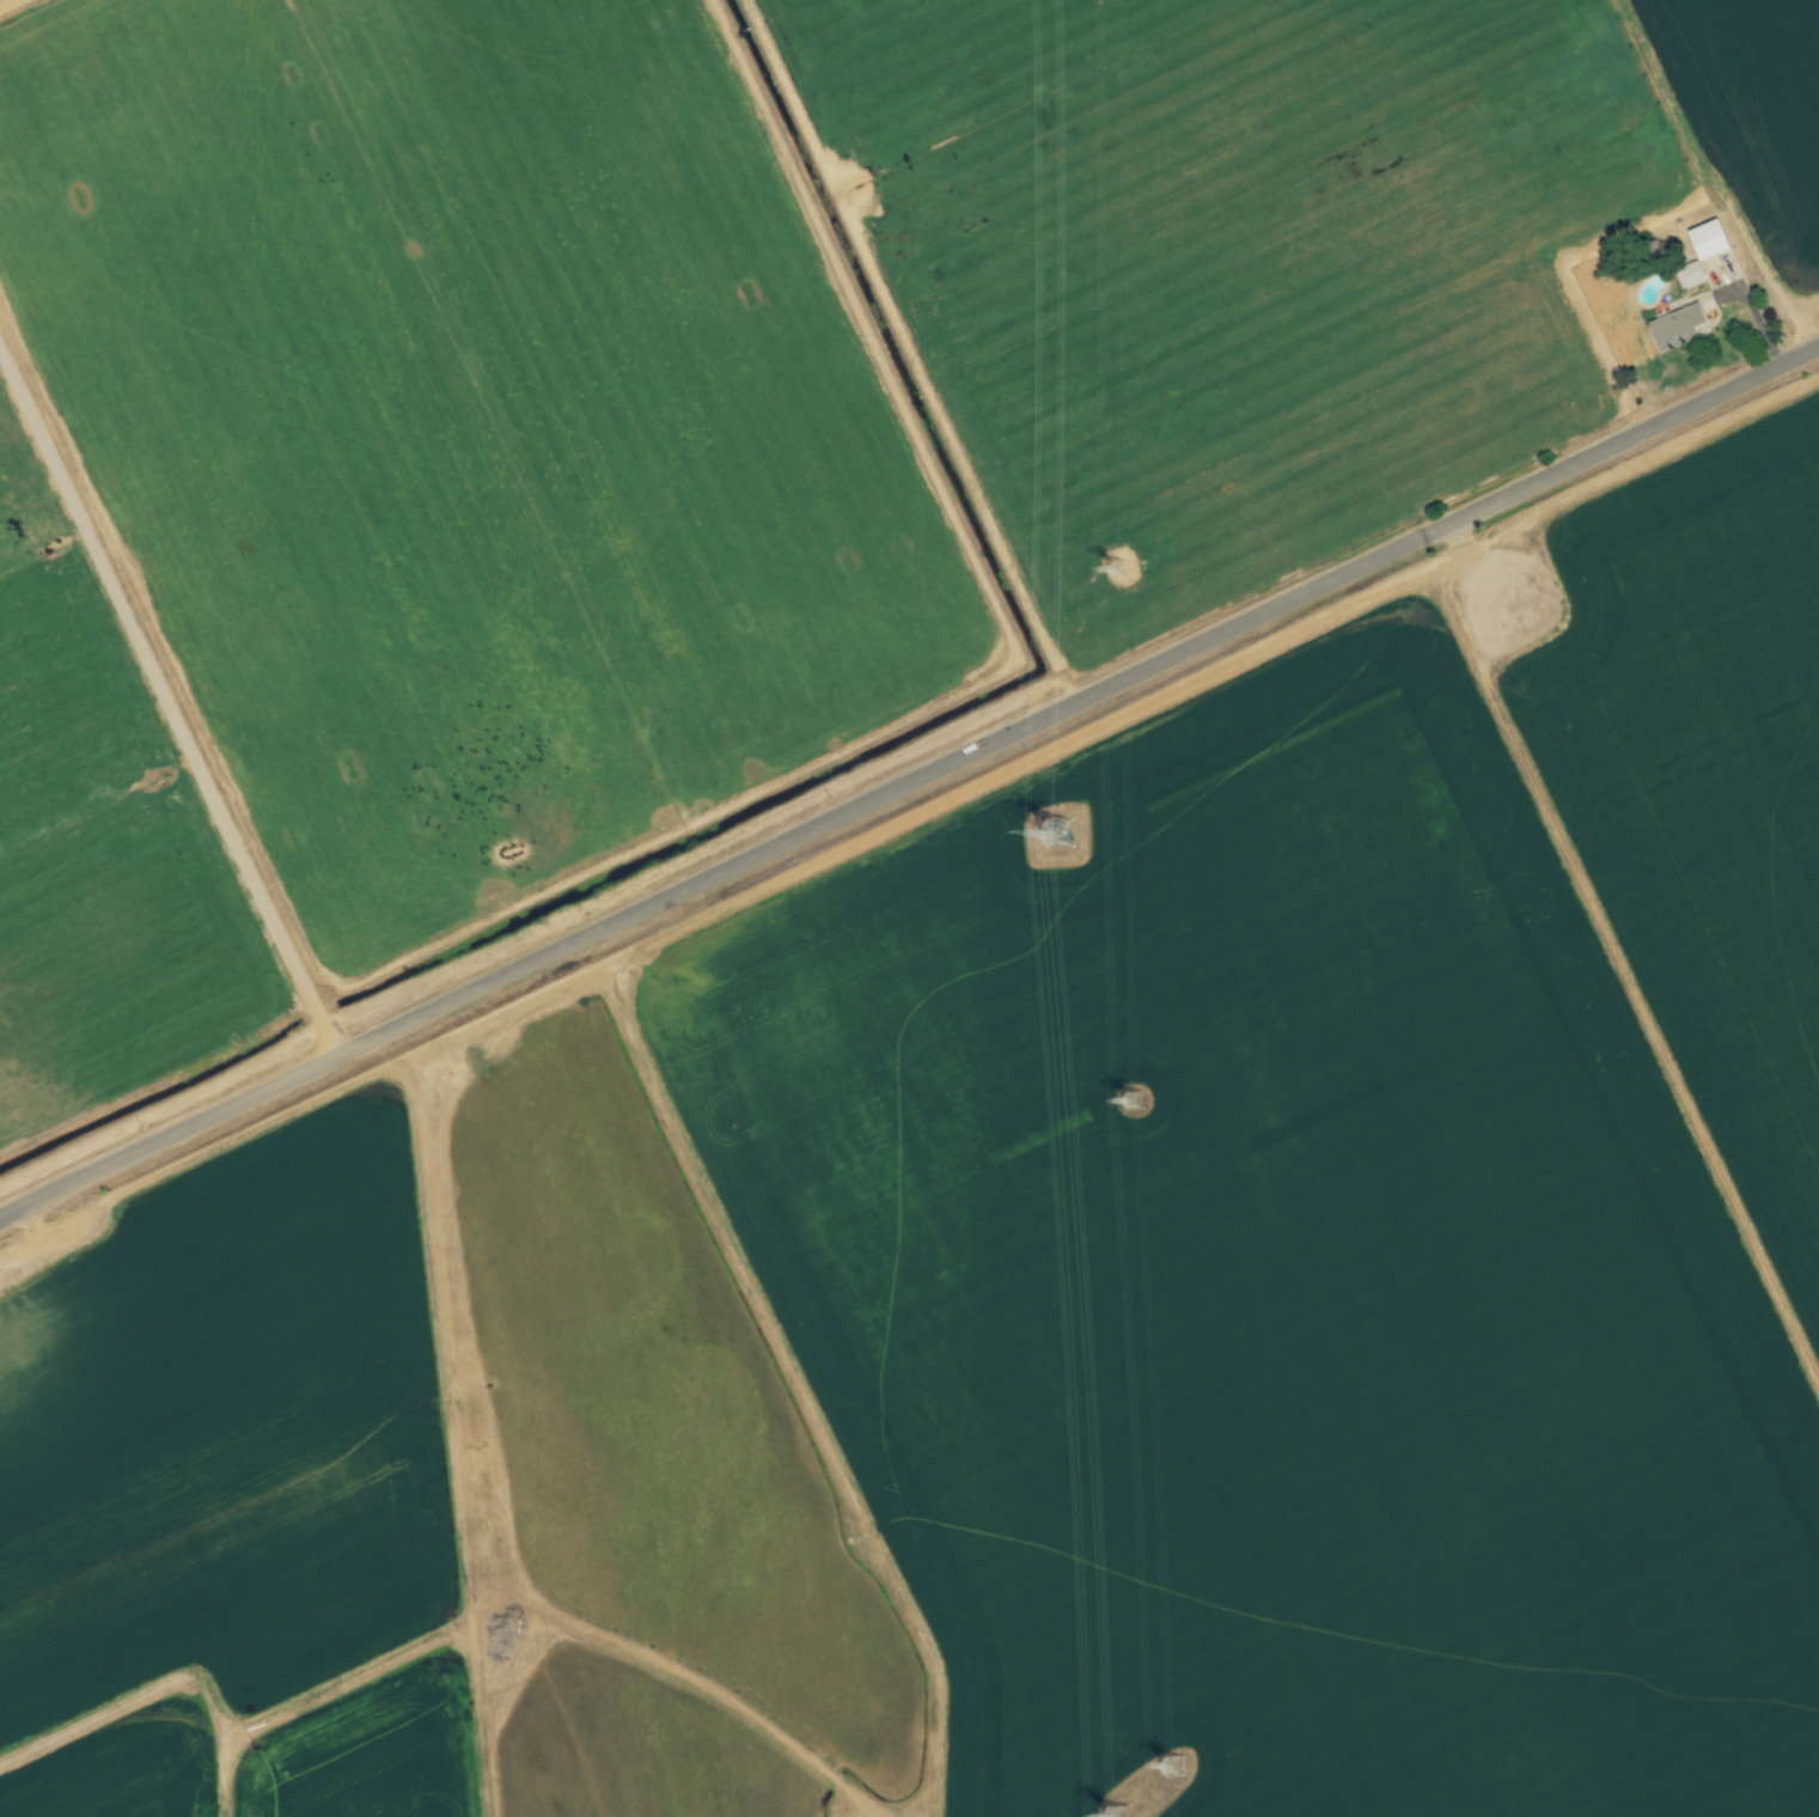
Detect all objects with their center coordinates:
building: (1709, 239)
building: (1692, 275)
building: (1677, 328)
power tower: (1121, 571)
road: (167, 705)
road: (909, 783)
power tower: (1063, 835)
power tower: (1136, 1100)
power tower: (1177, 1768)

